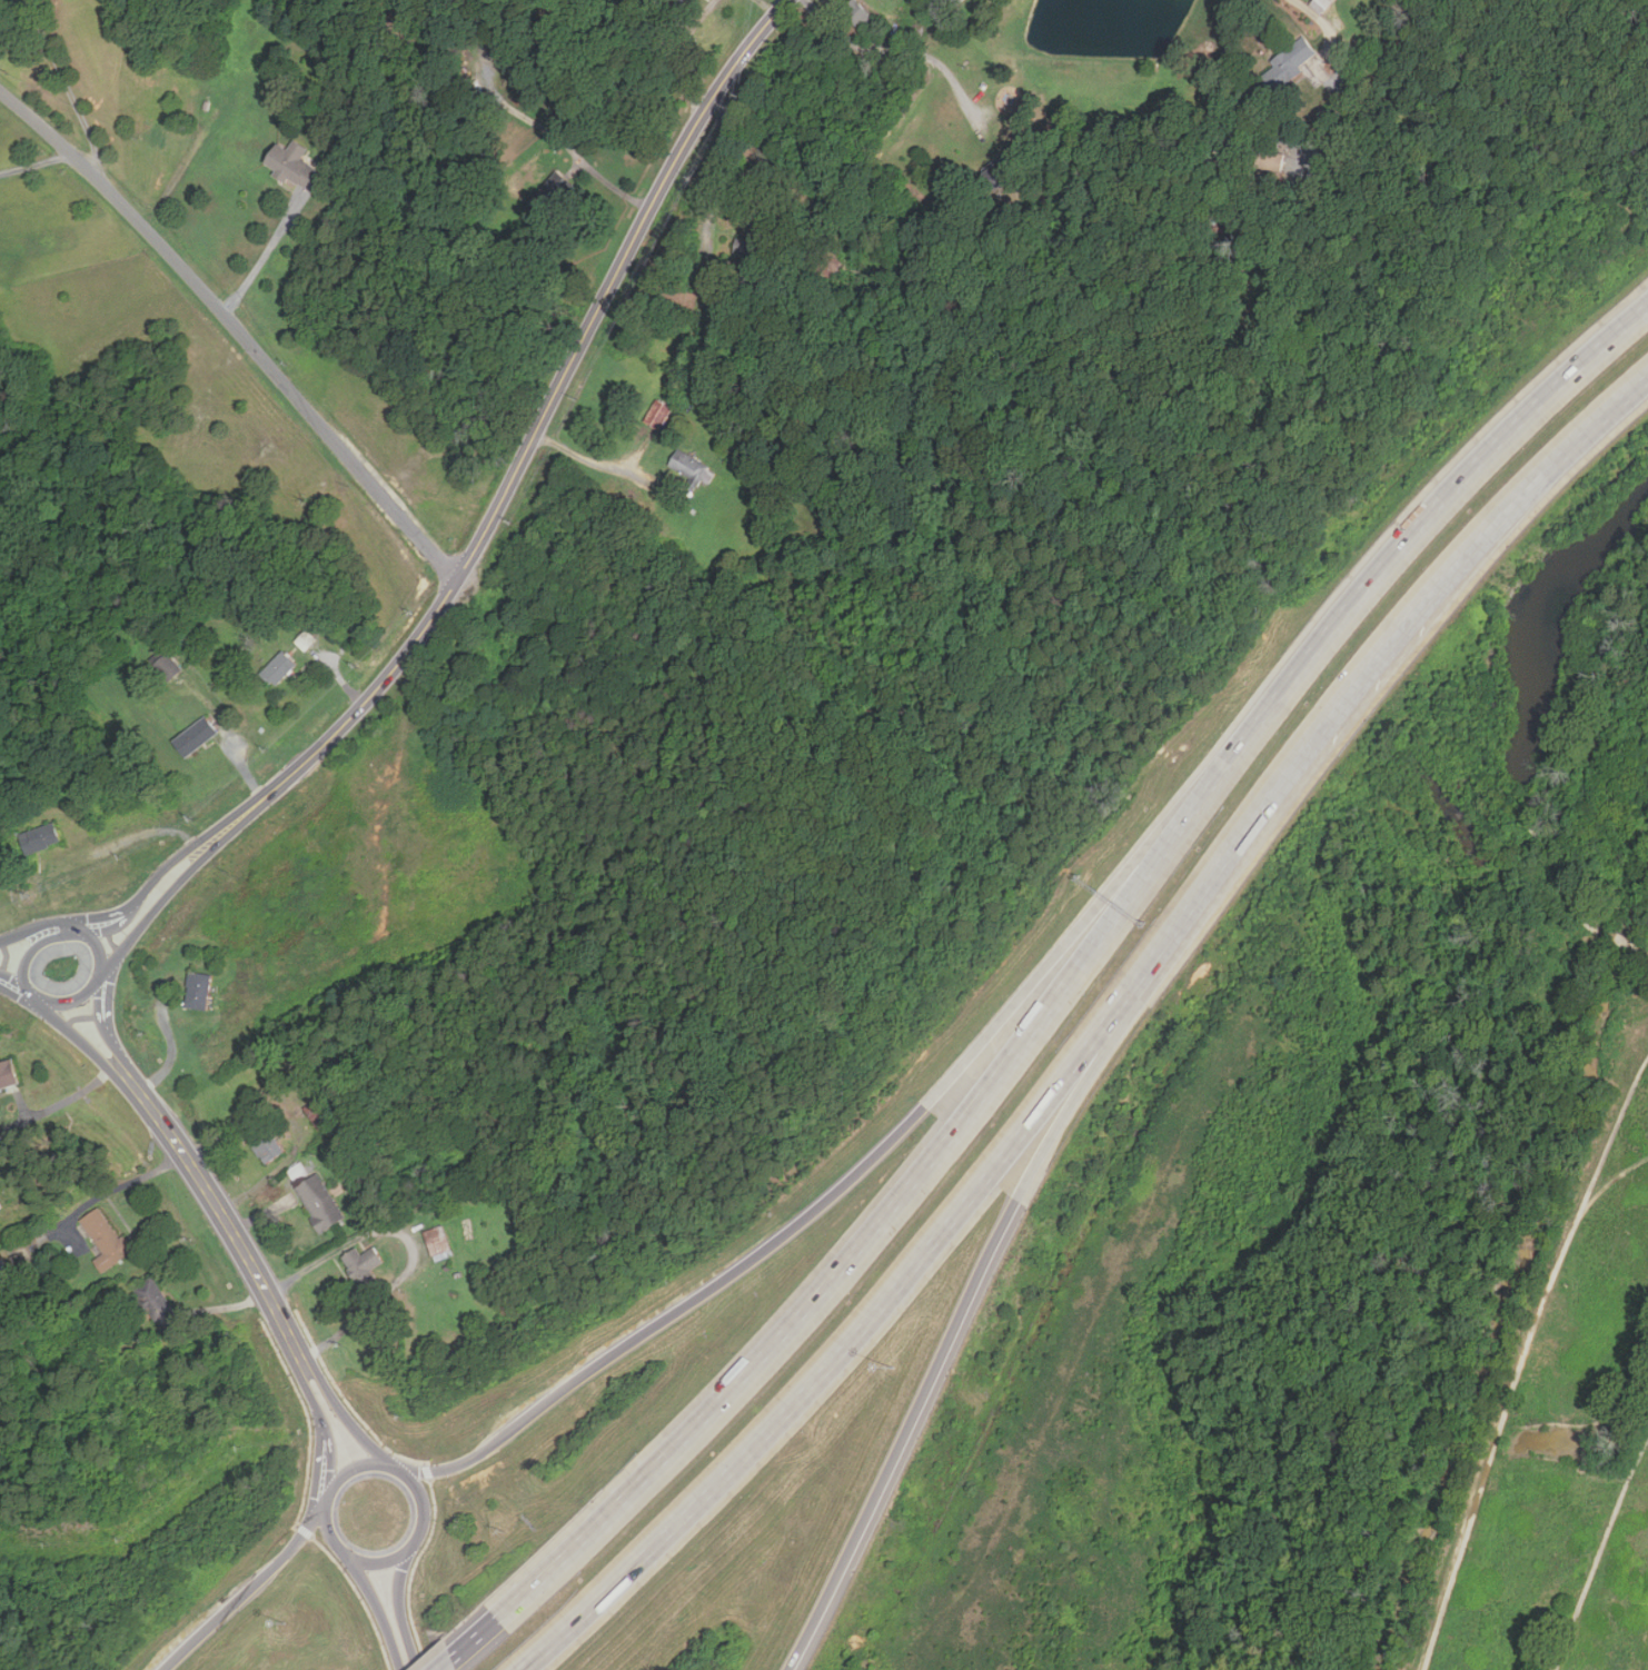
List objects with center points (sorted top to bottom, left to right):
building: (679, 1)
building: (1317, 4)
road: (767, 6)
building: (861, 17)
road: (1320, 18)
road: (897, 50)
road: (483, 51)
road: (685, 52)
building: (1285, 64)
road: (69, 89)
road: (575, 152)
road: (34, 160)
building: (294, 165)
road: (717, 166)
building: (999, 172)
building: (550, 195)
road: (264, 257)
building: (747, 259)
building: (832, 267)
road: (237, 329)
building: (657, 414)
road: (529, 454)
road: (579, 455)
building: (692, 467)
road: (1343, 614)
building: (167, 666)
building: (275, 668)
building: (195, 737)
building: (39, 838)
road: (123, 841)
road: (157, 877)
road: (151, 917)
road: (95, 925)
road: (16, 947)
road: (20, 961)
road: (13, 987)
building: (200, 993)
road: (100, 1002)
road: (1098, 1033)
road: (83, 1043)
road: (172, 1048)
road: (109, 1053)
building: (7, 1075)
building: (265, 1144)
building: (295, 1171)
road: (120, 1187)
building: (319, 1202)
road: (220, 1214)
building: (105, 1239)
road: (413, 1240)
building: (435, 1243)
road: (767, 1256)
building: (363, 1265)
building: (158, 1305)
road: (791, 1323)
road: (961, 1333)
road: (309, 1393)
road: (346, 1421)
road: (322, 1467)
road: (393, 1565)
road: (251, 1597)
road: (407, 1658)
road: (451, 1661)
road: (409, 1664)

